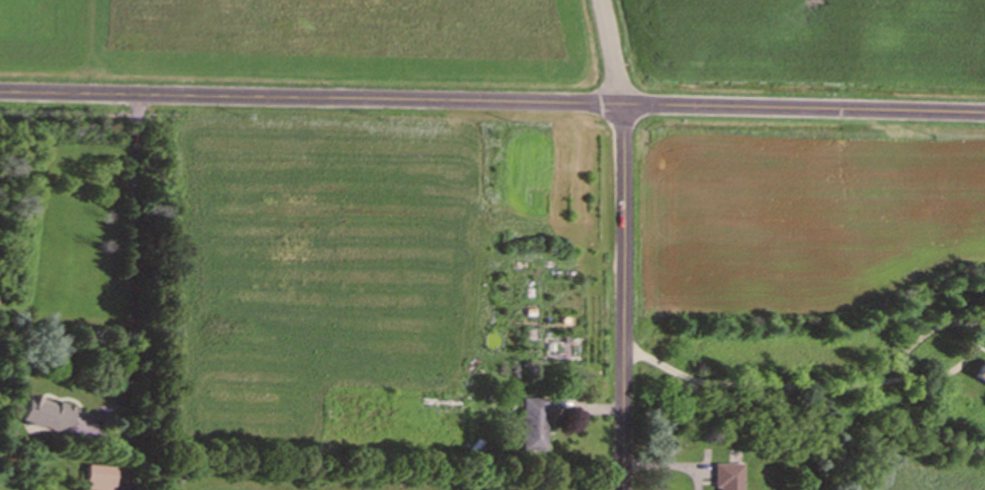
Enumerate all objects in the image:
crop: (300, 40)
crop: (811, 45)
road: (492, 104)
road: (622, 243)
road: (136, 284)
building: (976, 377)
road: (872, 380)
building: (39, 418)
building: (528, 428)
building: (722, 478)
building: (96, 480)

